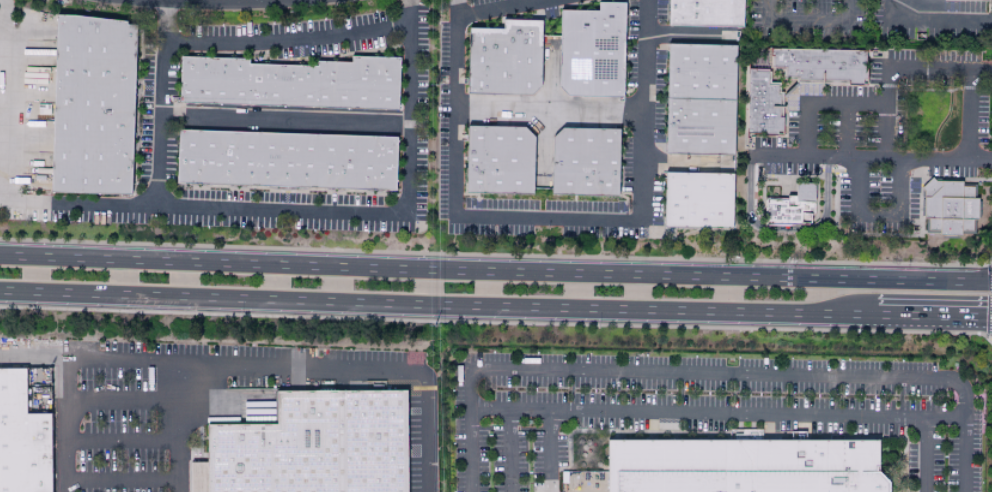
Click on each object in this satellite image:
road: (495, 12)
building: (702, 12)
road: (929, 20)
road: (805, 22)
road: (680, 38)
road: (283, 40)
building: (588, 50)
building: (502, 57)
road: (0, 63)
building: (821, 66)
road: (927, 70)
road: (979, 72)
building: (288, 82)
power tower: (437, 88)
building: (697, 98)
road: (161, 103)
building: (763, 104)
building: (89, 105)
road: (820, 105)
road: (547, 114)
road: (283, 119)
road: (846, 133)
building: (284, 159)
building: (495, 159)
road: (875, 160)
building: (581, 161)
building: (694, 200)
building: (791, 208)
building: (948, 208)
road: (309, 210)
power tower: (436, 211)
road: (876, 218)
road: (558, 219)
road: (783, 230)
road: (495, 270)
road: (495, 305)
power tower: (437, 330)
road: (33, 359)
road: (237, 365)
road: (668, 373)
road: (123, 402)
parking lot: (141, 408)
road: (695, 415)
road: (180, 427)
building: (745, 434)
road: (924, 438)
building: (22, 439)
road: (123, 441)
building: (314, 446)
road: (506, 452)
road: (543, 453)
road: (957, 455)
building: (734, 467)
road: (123, 480)

